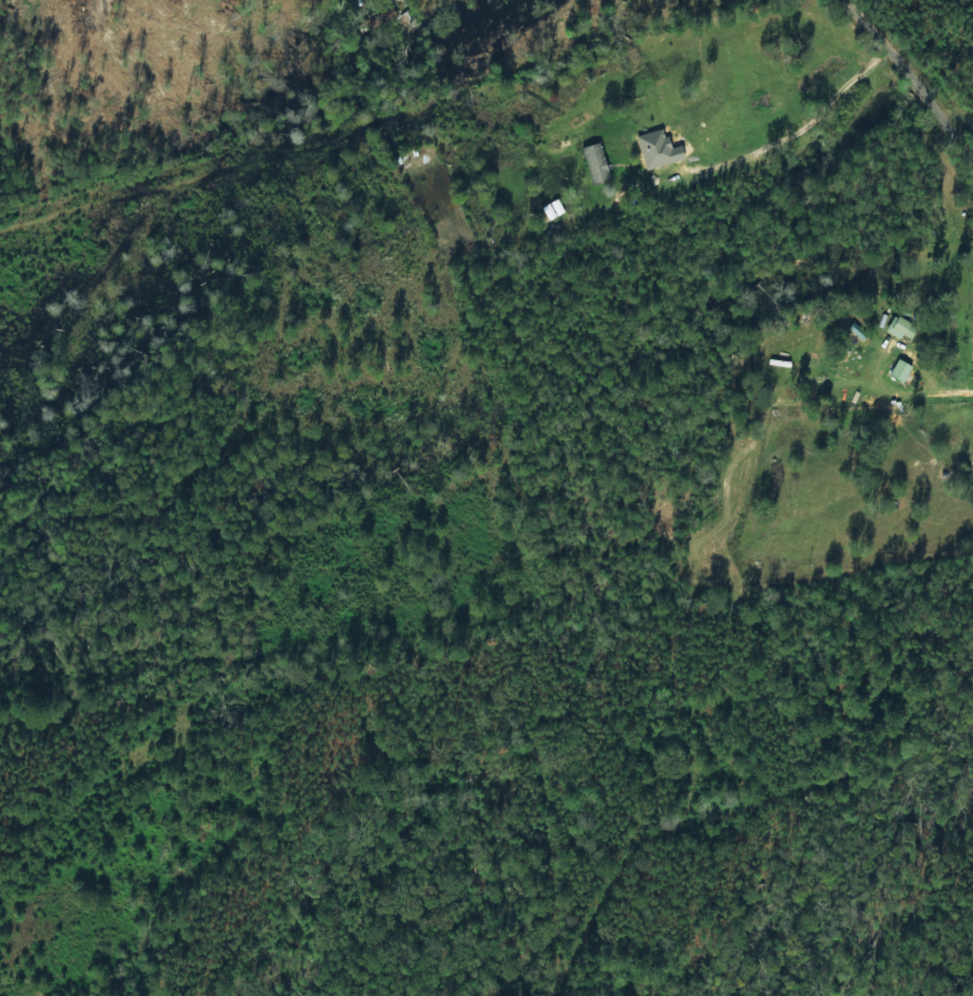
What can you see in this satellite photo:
road: (882, 99)
building: (596, 164)
building: (553, 209)
building: (902, 327)
building: (901, 370)

